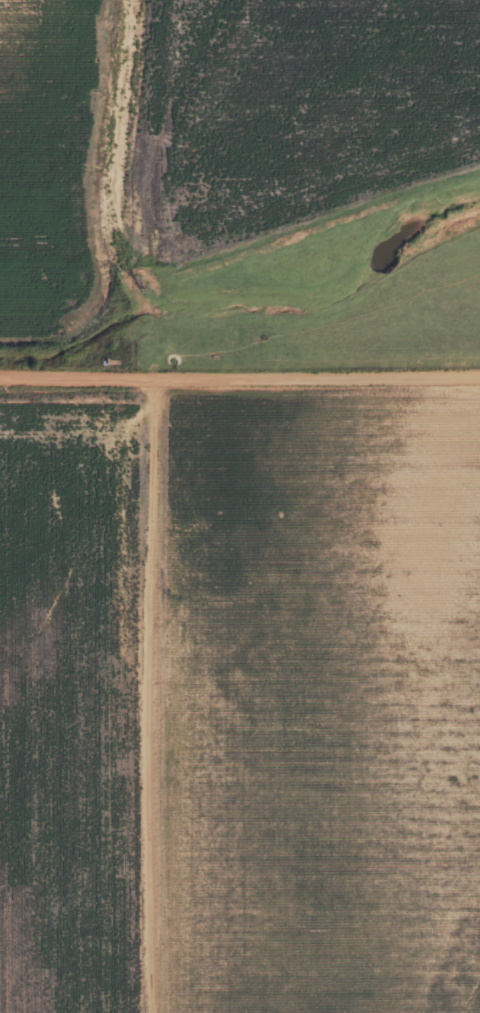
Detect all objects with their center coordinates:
road: (239, 379)

